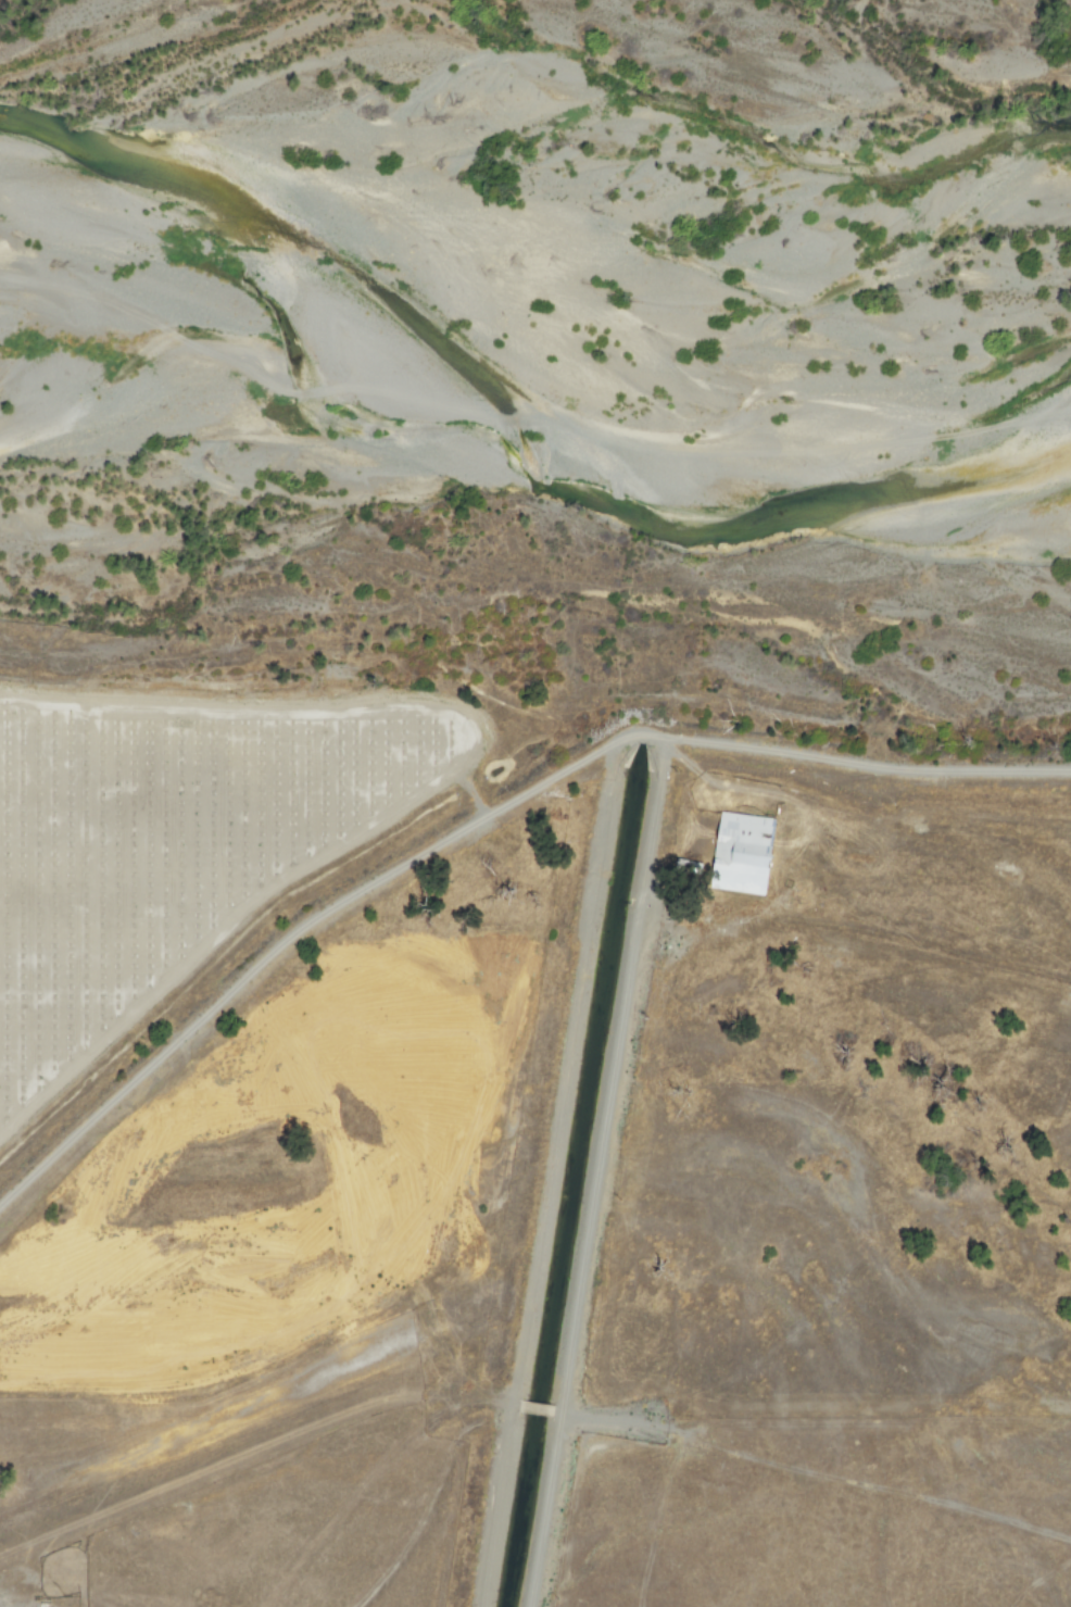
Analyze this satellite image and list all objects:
river: (525, 420)
building: (742, 854)

